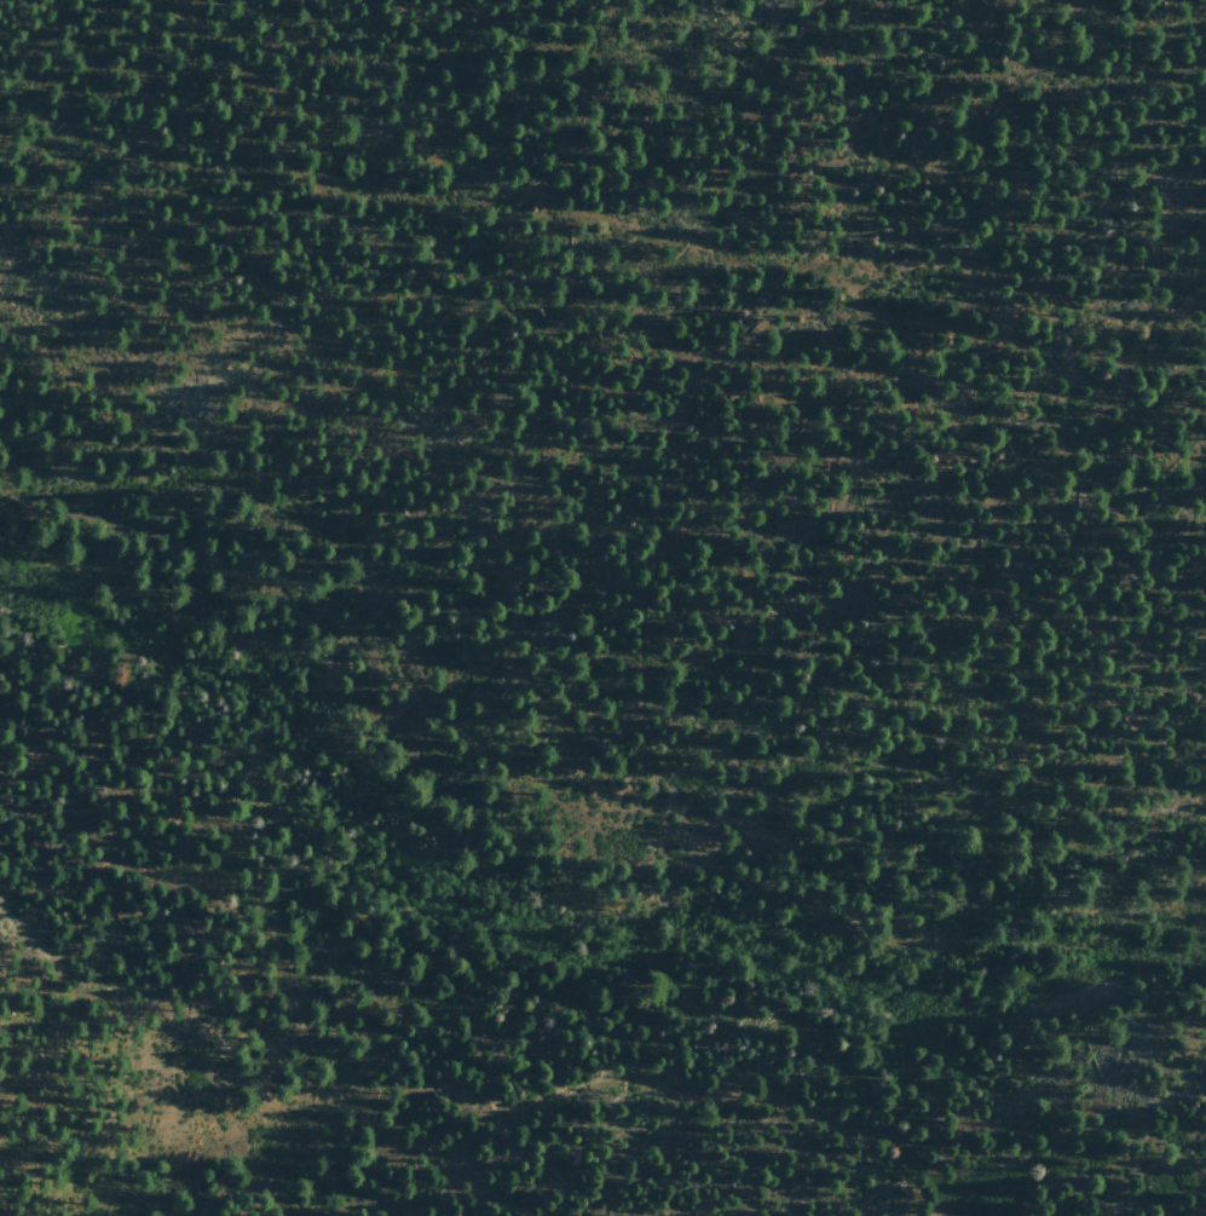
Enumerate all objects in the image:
road: (552, 898)
road: (187, 1154)

